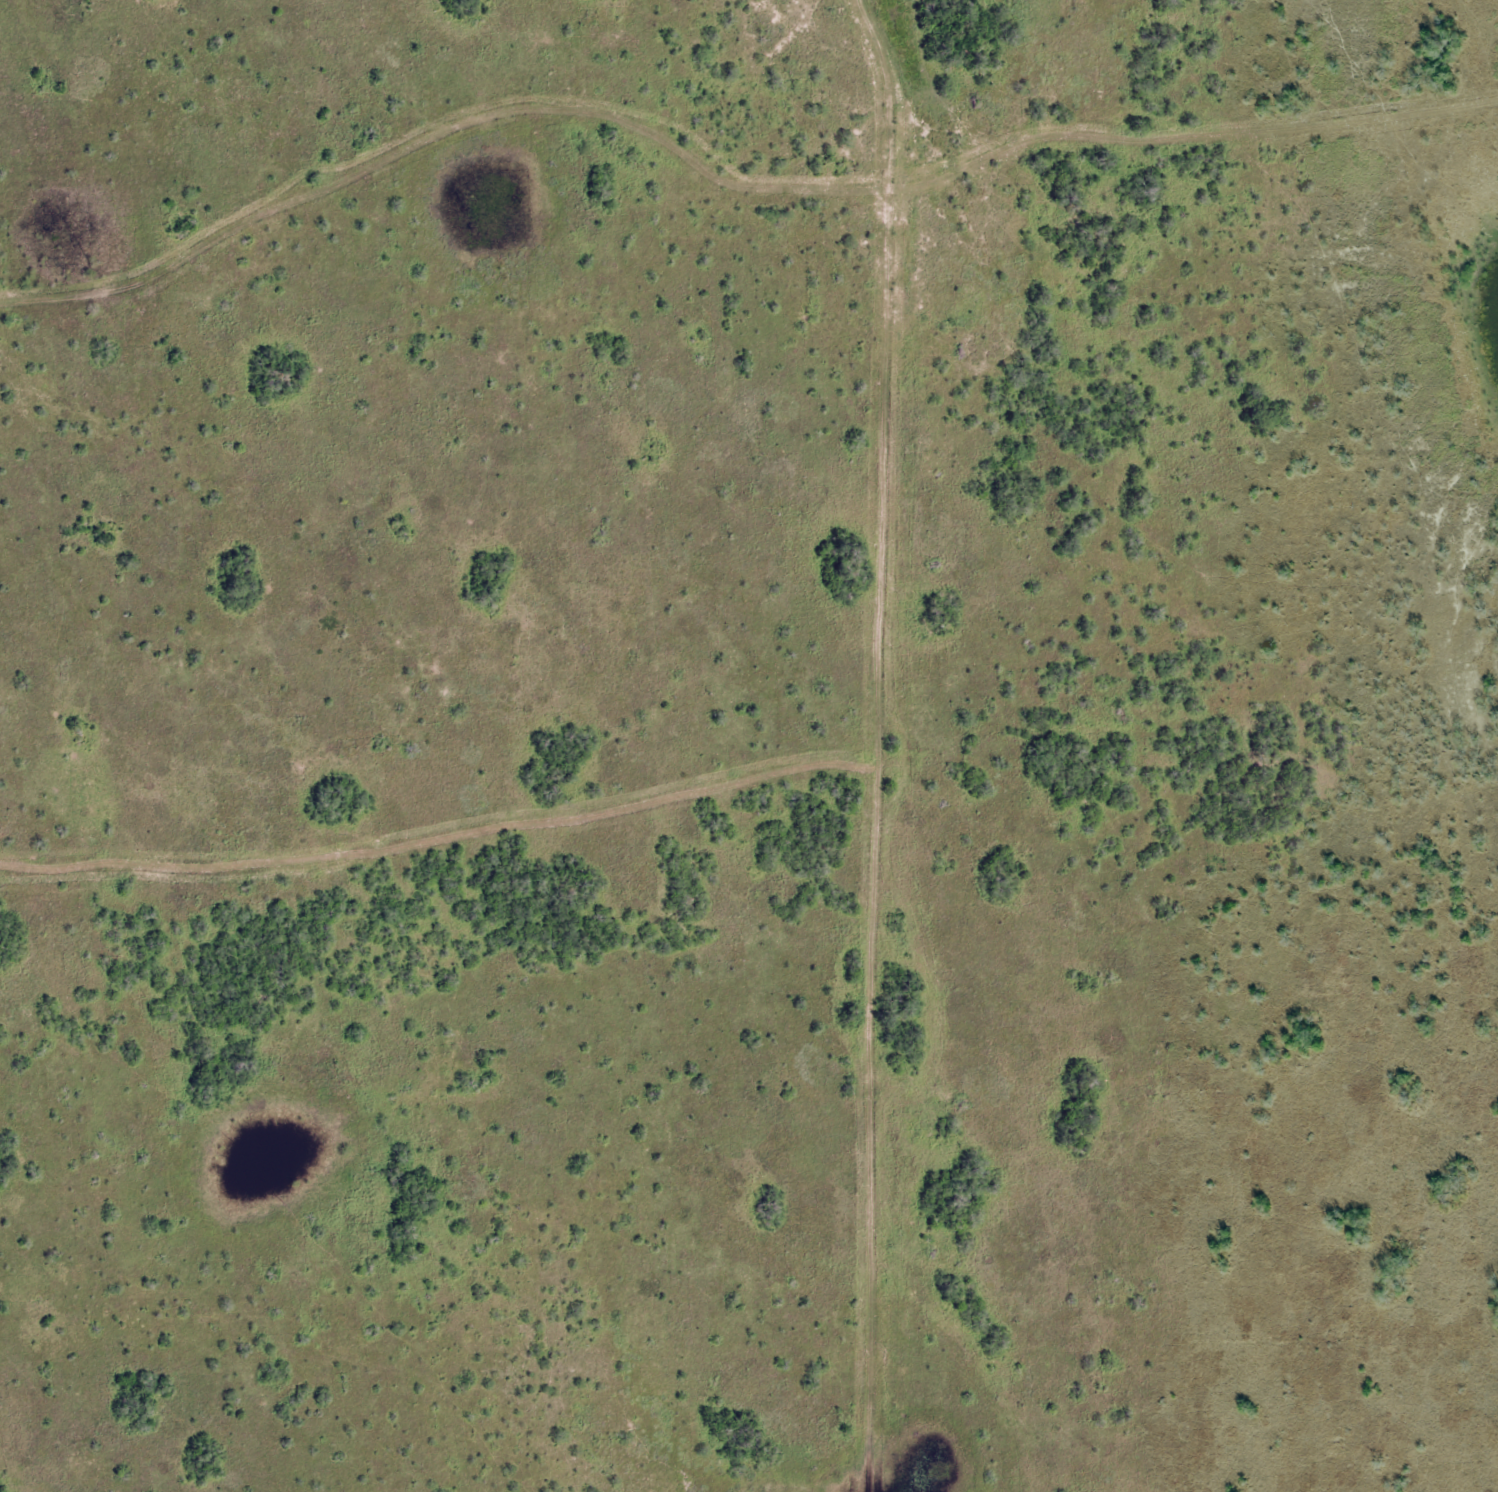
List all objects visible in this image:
road: (823, 752)

